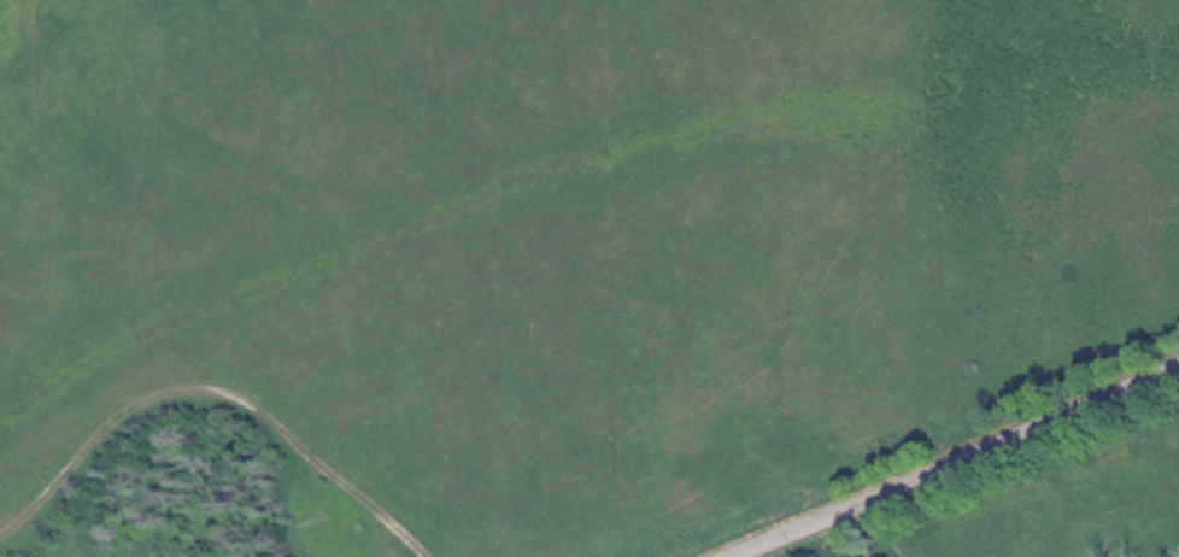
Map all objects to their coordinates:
road: (951, 459)

